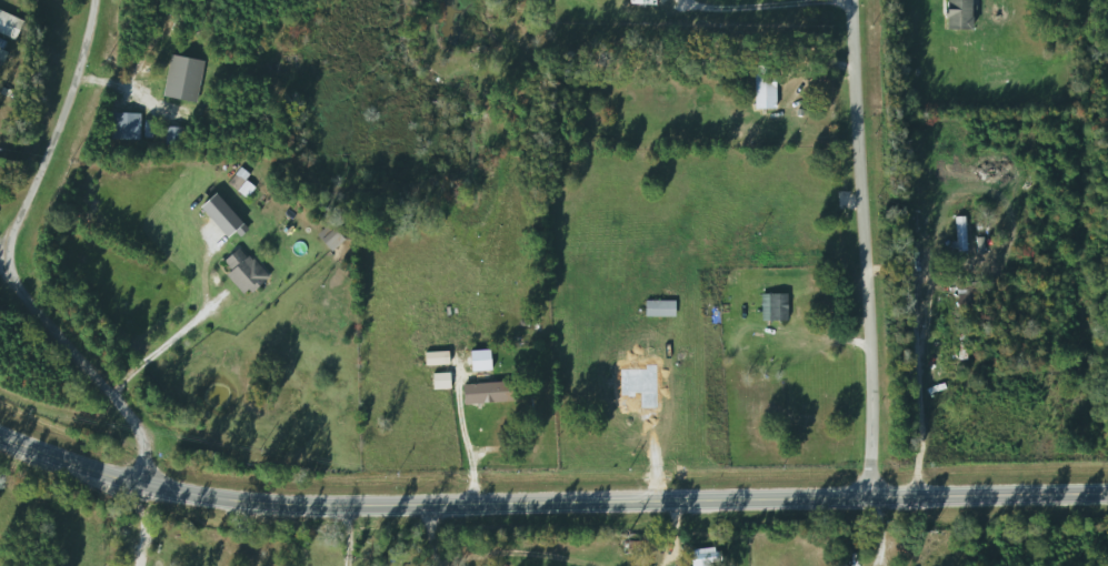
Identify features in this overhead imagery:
building: (628, 4)
road: (798, 11)
building: (954, 14)
building: (8, 24)
building: (762, 88)
road: (57, 132)
building: (958, 233)
road: (877, 249)
road: (1, 256)
building: (230, 270)
building: (773, 306)
building: (658, 307)
building: (465, 334)
road: (171, 335)
road: (830, 342)
building: (961, 344)
road: (93, 363)
road: (916, 388)
road: (549, 503)
road: (142, 524)
road: (877, 533)
road: (348, 536)
building: (698, 553)

